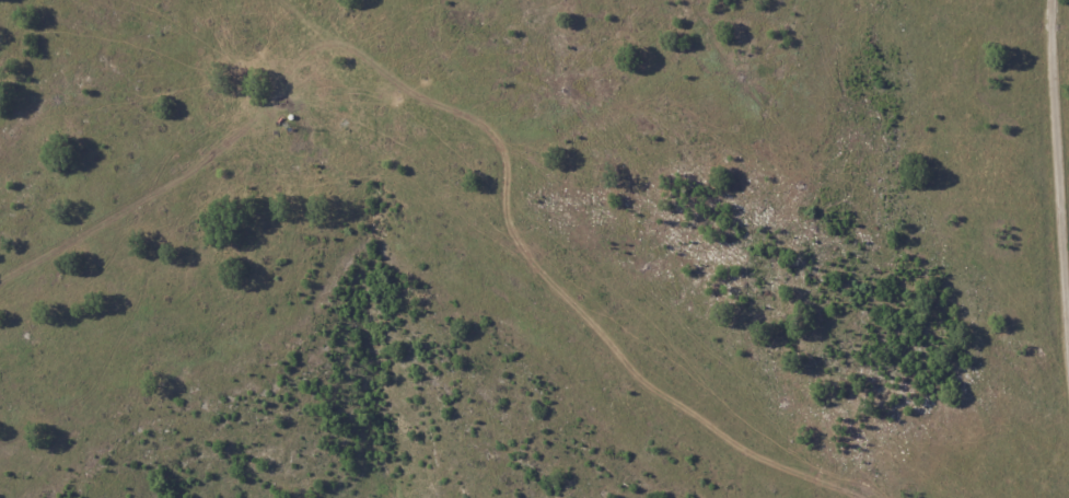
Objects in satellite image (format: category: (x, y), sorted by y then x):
road: (1062, 167)

